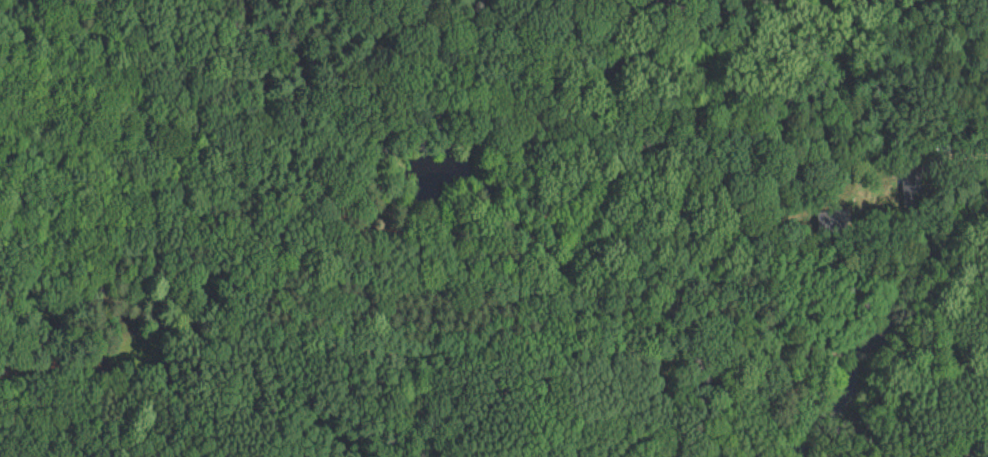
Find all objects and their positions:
road: (868, 5)
road: (931, 11)
road: (953, 154)
road: (400, 166)
road: (484, 339)
road: (494, 433)

